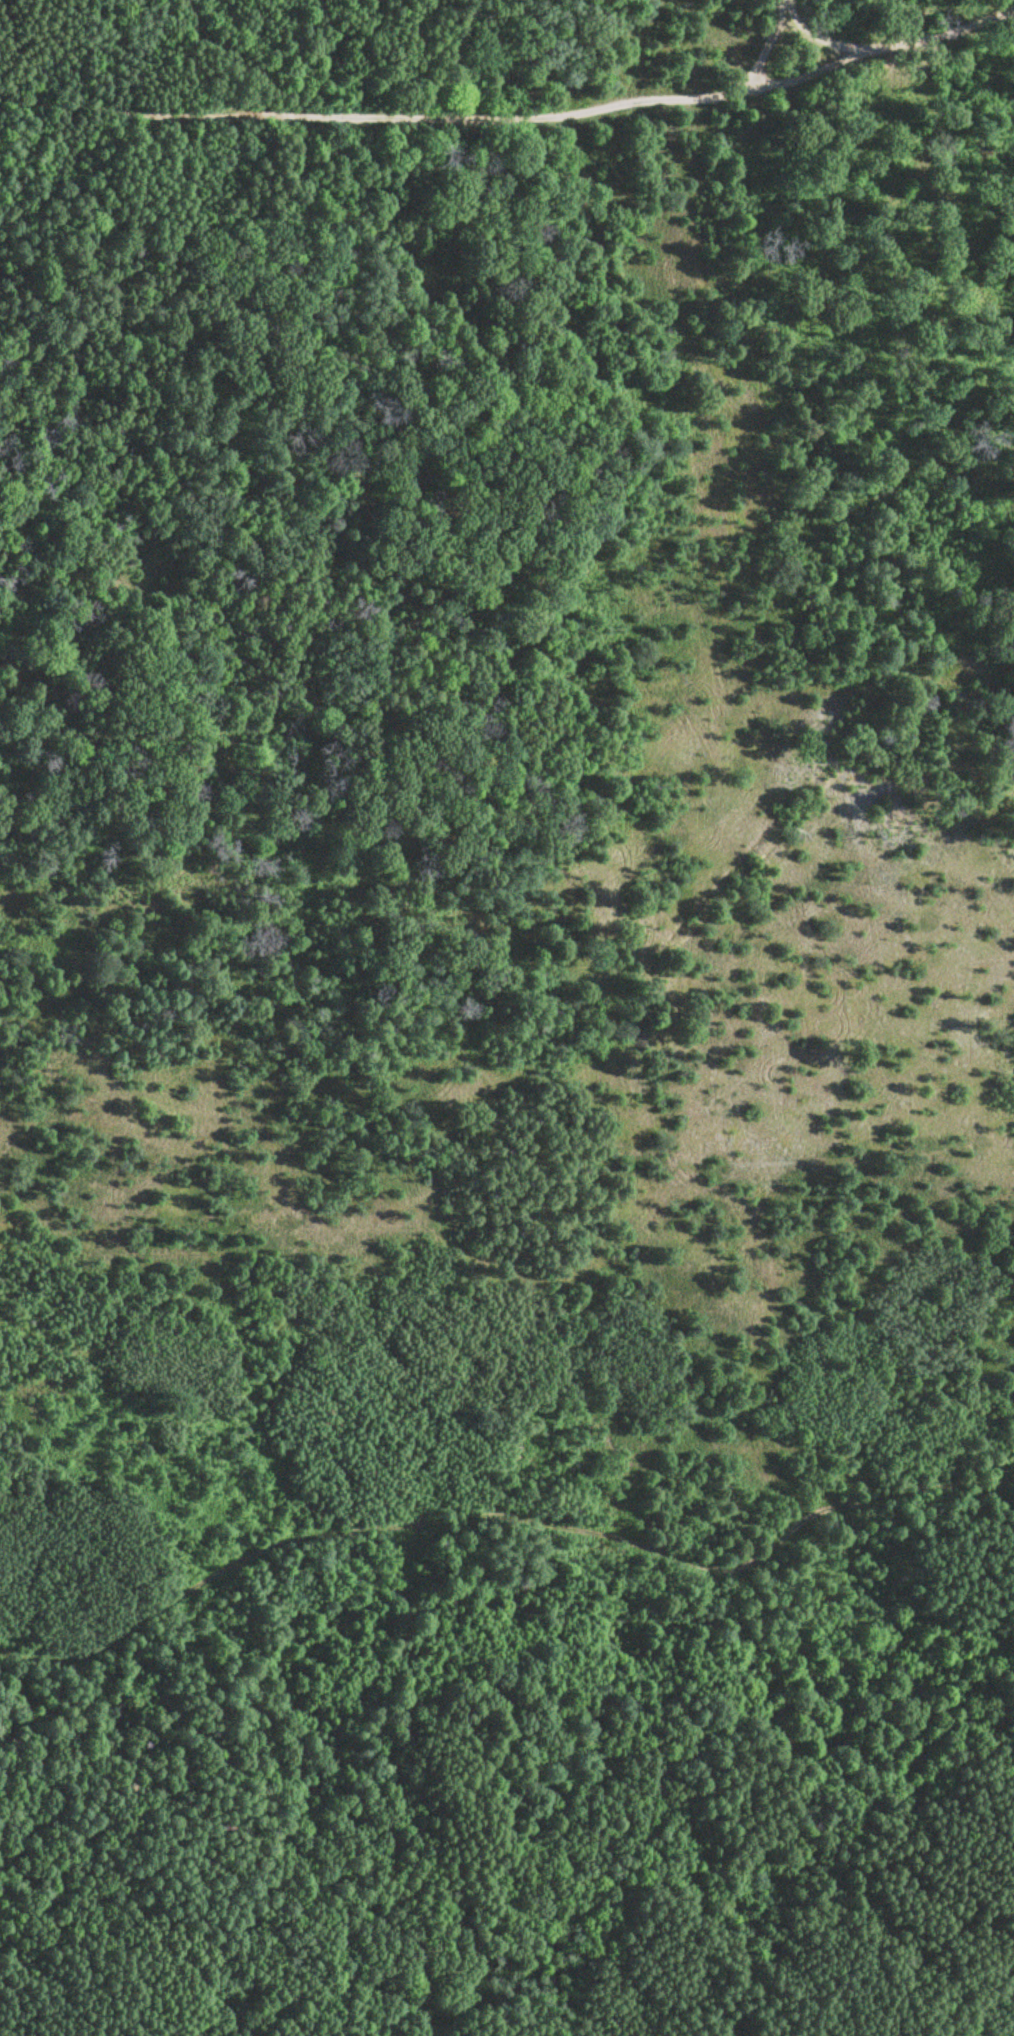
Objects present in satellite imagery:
road: (772, 42)
road: (514, 119)
road: (503, 1520)

